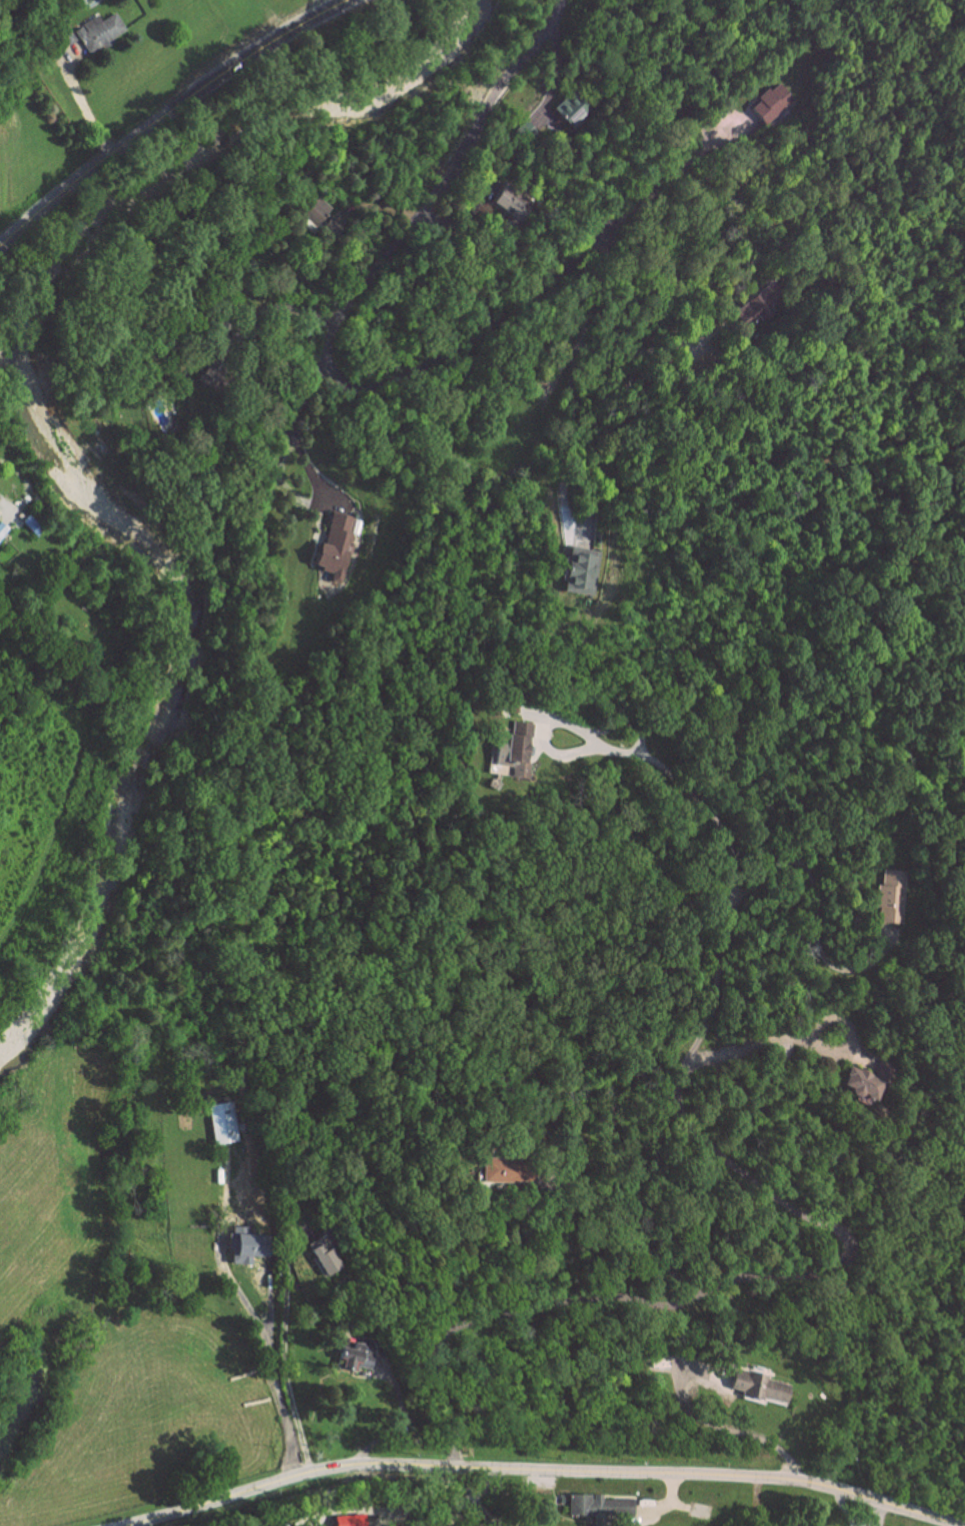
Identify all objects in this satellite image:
building: (97, 31)
building: (59, 39)
road: (84, 111)
building: (565, 112)
road: (161, 119)
road: (287, 305)
building: (747, 312)
building: (211, 373)
road: (336, 374)
road: (573, 376)
road: (295, 424)
building: (333, 545)
building: (578, 573)
building: (511, 750)
building: (890, 897)
road: (815, 901)
road: (754, 1040)
building: (865, 1080)
building: (221, 1122)
building: (502, 1169)
road: (819, 1221)
road: (639, 1237)
building: (248, 1243)
building: (324, 1255)
building: (356, 1354)
road: (284, 1355)
road: (275, 1381)
building: (759, 1387)
road: (717, 1423)
road: (541, 1467)
building: (588, 1507)
building: (348, 1520)

